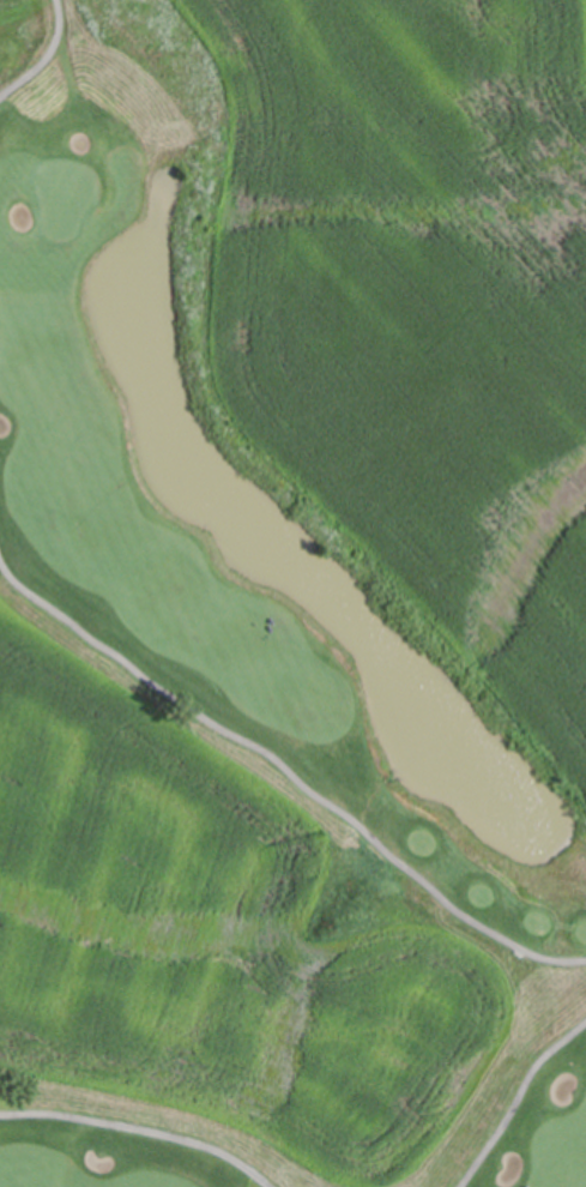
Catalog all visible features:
park: (573, 62)
park: (252, 561)
park: (126, 1140)

